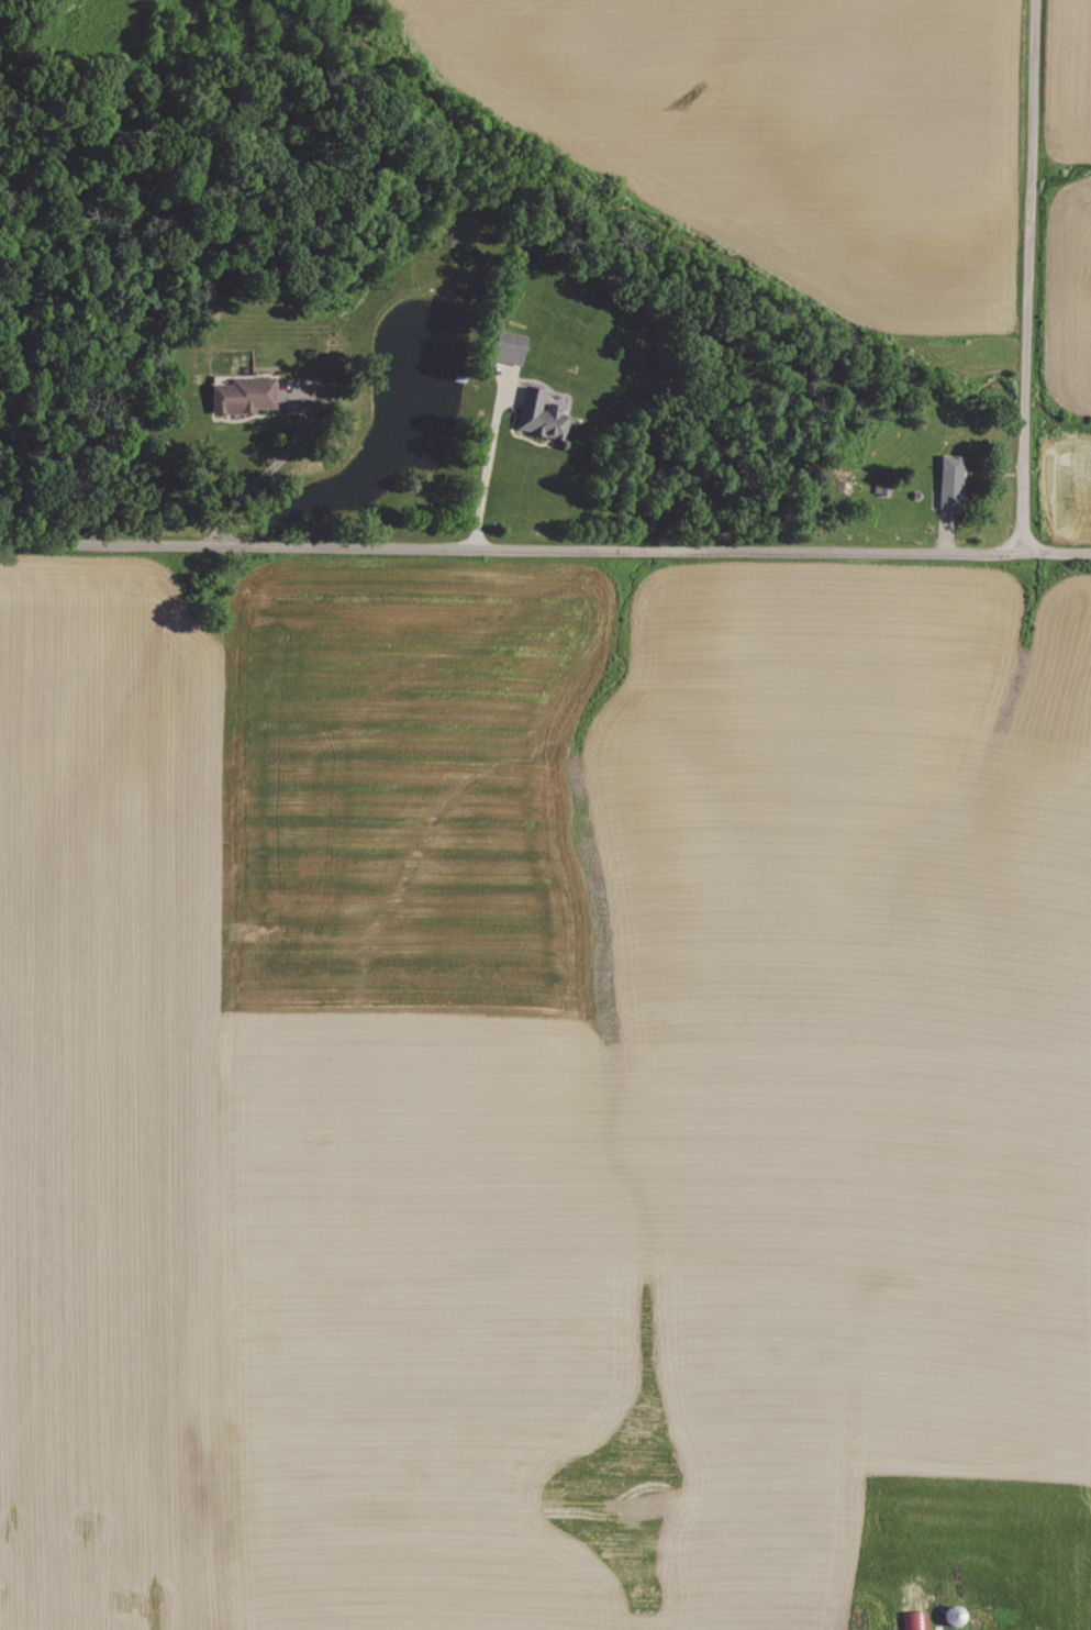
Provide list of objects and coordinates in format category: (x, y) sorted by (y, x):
road: (1026, 275)
building: (504, 346)
building: (242, 395)
building: (537, 414)
road: (487, 458)
road: (269, 467)
building: (948, 480)
road: (545, 546)
building: (914, 1619)

